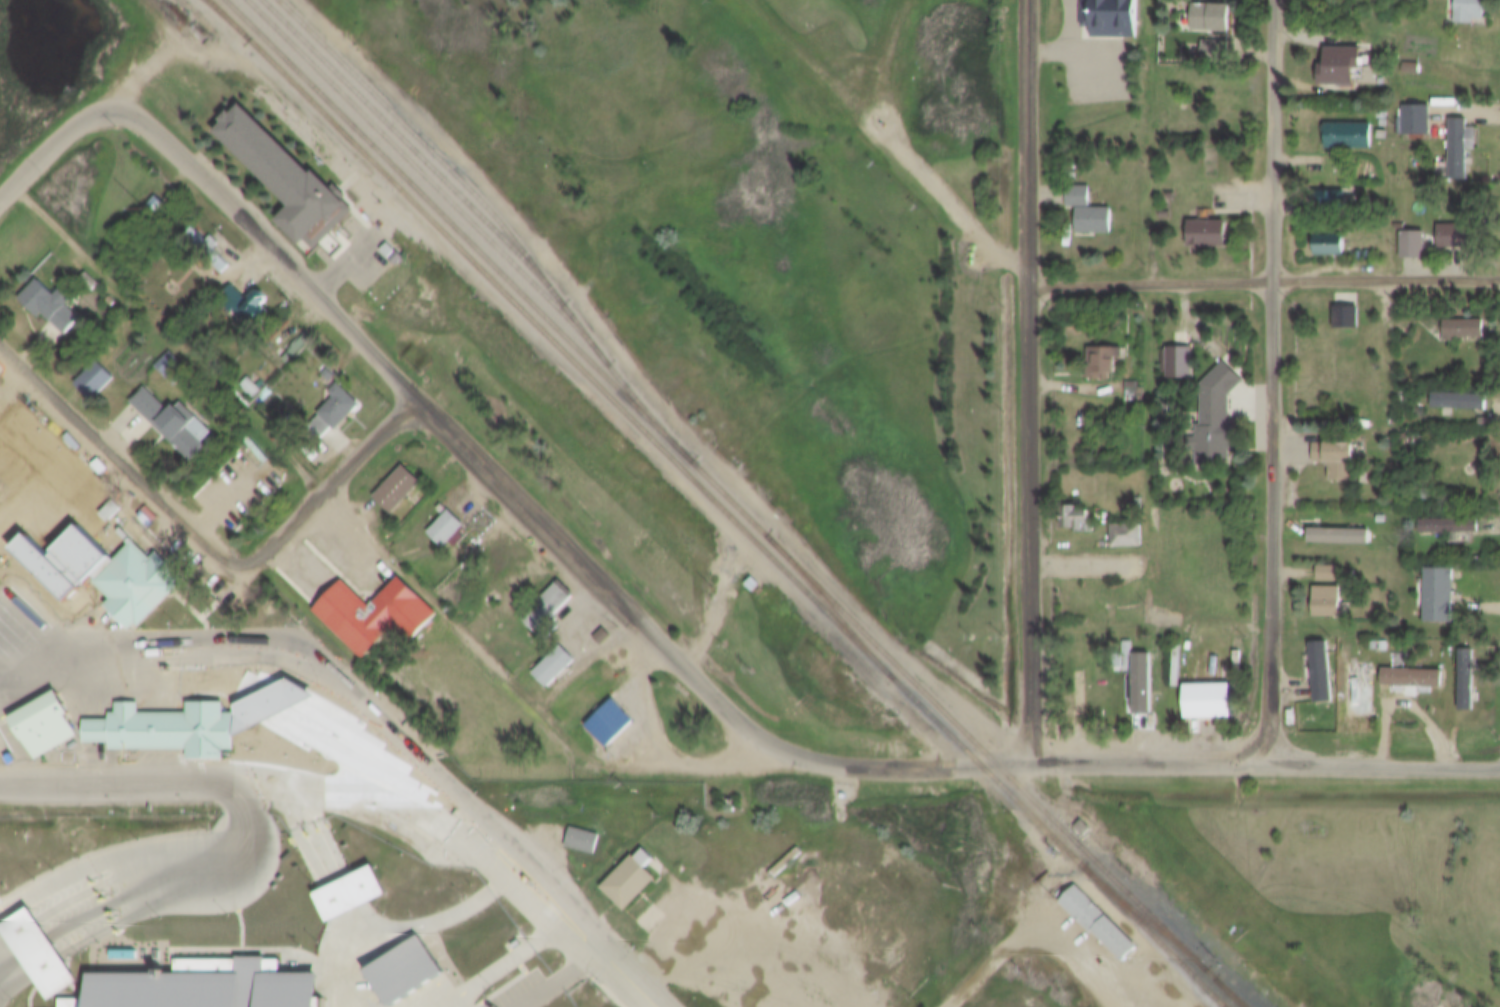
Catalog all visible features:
building: (1472, 6)
building: (1211, 10)
building: (1111, 12)
building: (48, 16)
building: (1220, 22)
building: (1217, 40)
building: (1340, 54)
building: (1222, 57)
building: (1413, 57)
building: (1347, 68)
building: (1417, 109)
building: (1421, 123)
building: (1350, 124)
building: (1460, 136)
building: (1351, 141)
railway: (423, 146)
building: (1073, 166)
building: (293, 177)
railway: (439, 180)
building: (1077, 185)
building: (1330, 188)
railway: (499, 201)
building: (157, 205)
building: (1093, 209)
building: (1206, 222)
building: (1455, 225)
building: (1331, 233)
building: (1413, 234)
building: (1213, 237)
building: (1460, 237)
building: (1416, 246)
building: (1333, 248)
building: (211, 251)
building: (391, 251)
building: (398, 258)
road: (1267, 278)
building: (59, 306)
building: (1346, 307)
building: (257, 308)
building: (1464, 320)
building: (1355, 321)
building: (1479, 333)
building: (308, 347)
building: (1105, 351)
building: (1179, 354)
building: (186, 364)
building: (1122, 365)
building: (1200, 365)
road: (217, 373)
building: (112, 376)
building: (267, 382)
road: (1035, 382)
road: (1270, 382)
building: (1458, 390)
building: (4, 399)
building: (1479, 400)
building: (356, 404)
building: (1217, 408)
building: (1246, 412)
building: (198, 417)
building: (1333, 449)
building: (1367, 452)
building: (82, 471)
building: (428, 479)
railway: (719, 503)
railway: (737, 504)
building: (1380, 509)
building: (1072, 510)
building: (1115, 513)
building: (1447, 516)
building: (481, 517)
building: (1480, 519)
road: (222, 520)
building: (1125, 525)
building: (1373, 526)
building: (1336, 527)
building: (1165, 529)
building: (113, 546)
building: (80, 556)
building: (1327, 563)
building: (1363, 568)
building: (173, 572)
building: (784, 574)
building: (1437, 585)
building: (1480, 585)
building: (1326, 591)
building: (1364, 595)
building: (577, 601)
railway: (826, 603)
building: (406, 605)
road: (662, 611)
road: (223, 648)
building: (1175, 655)
building: (580, 657)
building: (1319, 662)
building: (1348, 666)
road: (41, 668)
building: (1409, 668)
building: (1465, 670)
building: (1438, 672)
building: (1492, 676)
building: (232, 681)
building: (1078, 684)
road: (219, 689)
building: (1205, 691)
building: (1235, 699)
building: (631, 717)
building: (67, 718)
building: (186, 724)
road: (404, 743)
road: (598, 764)
road: (172, 779)
building: (860, 792)
road: (390, 822)
building: (1095, 825)
road: (464, 831)
building: (593, 837)
road: (517, 848)
road: (477, 860)
building: (691, 867)
road: (169, 875)
building: (640, 878)
building: (361, 891)
road: (1162, 892)
railway: (1140, 915)
road: (358, 919)
road: (714, 921)
building: (1106, 921)
road: (1028, 939)
building: (36, 948)
road: (17, 954)
road: (607, 963)
road: (504, 964)
building: (405, 972)
building: (207, 985)
railway: (1230, 993)
railway: (1223, 1005)

